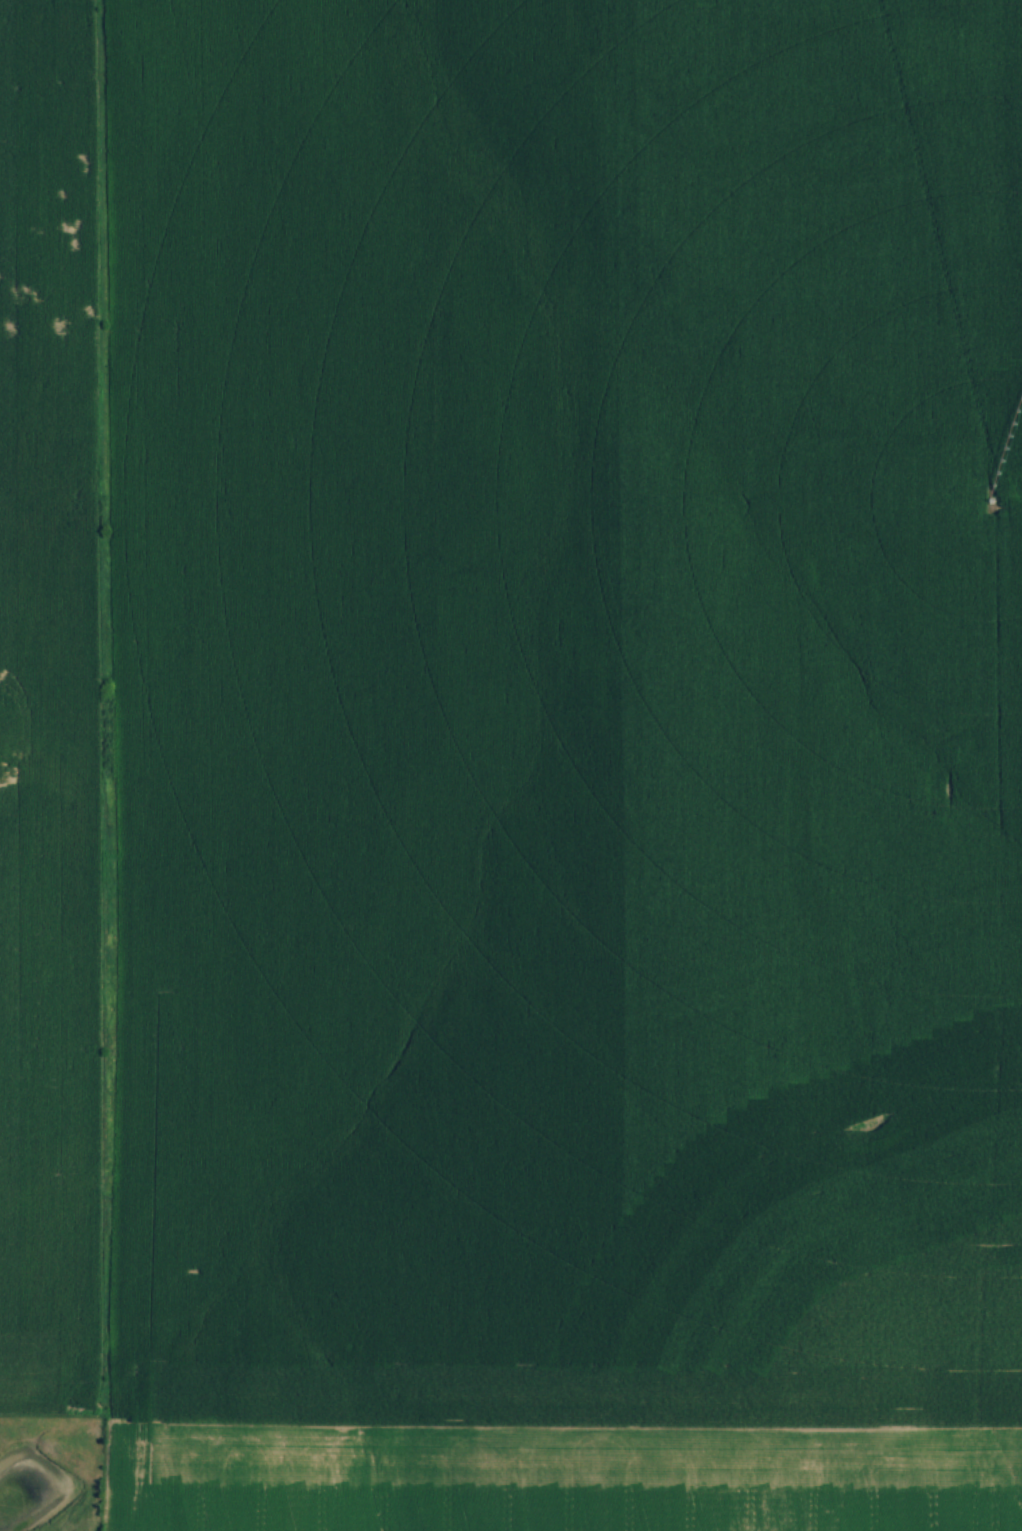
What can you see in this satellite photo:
building: (837, 127)

